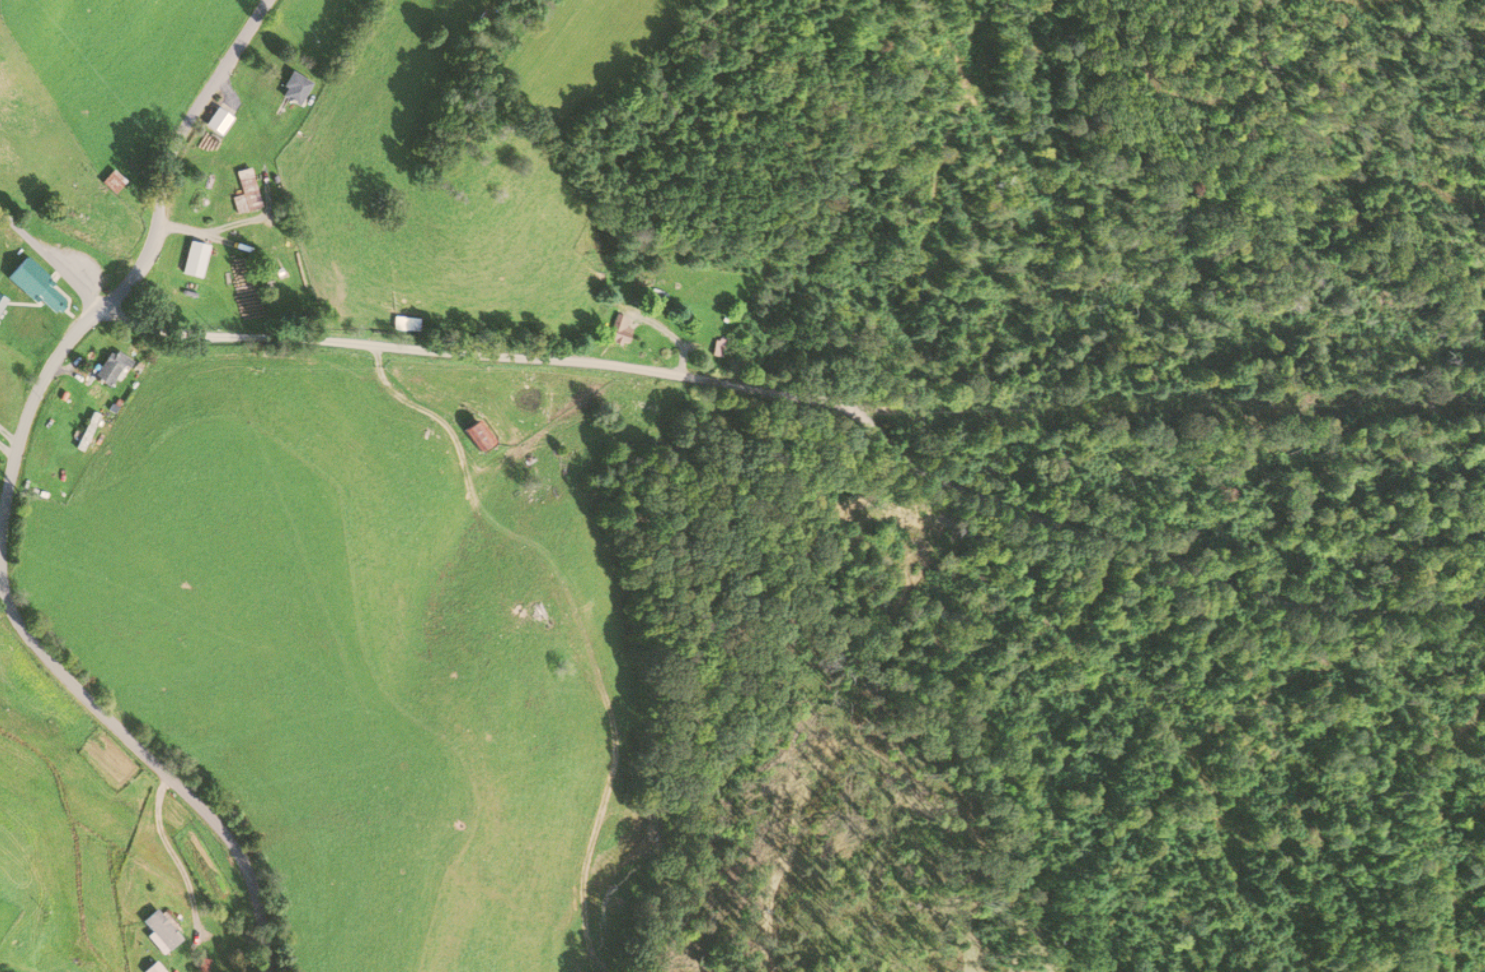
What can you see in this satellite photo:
building: (293, 89)
building: (217, 121)
building: (112, 182)
building: (244, 192)
road: (53, 257)
road: (141, 260)
building: (37, 288)
building: (1, 301)
building: (405, 324)
building: (618, 330)
building: (715, 349)
building: (110, 369)
road: (815, 395)
building: (87, 432)
building: (478, 438)
road: (155, 767)
building: (160, 929)
building: (153, 968)

